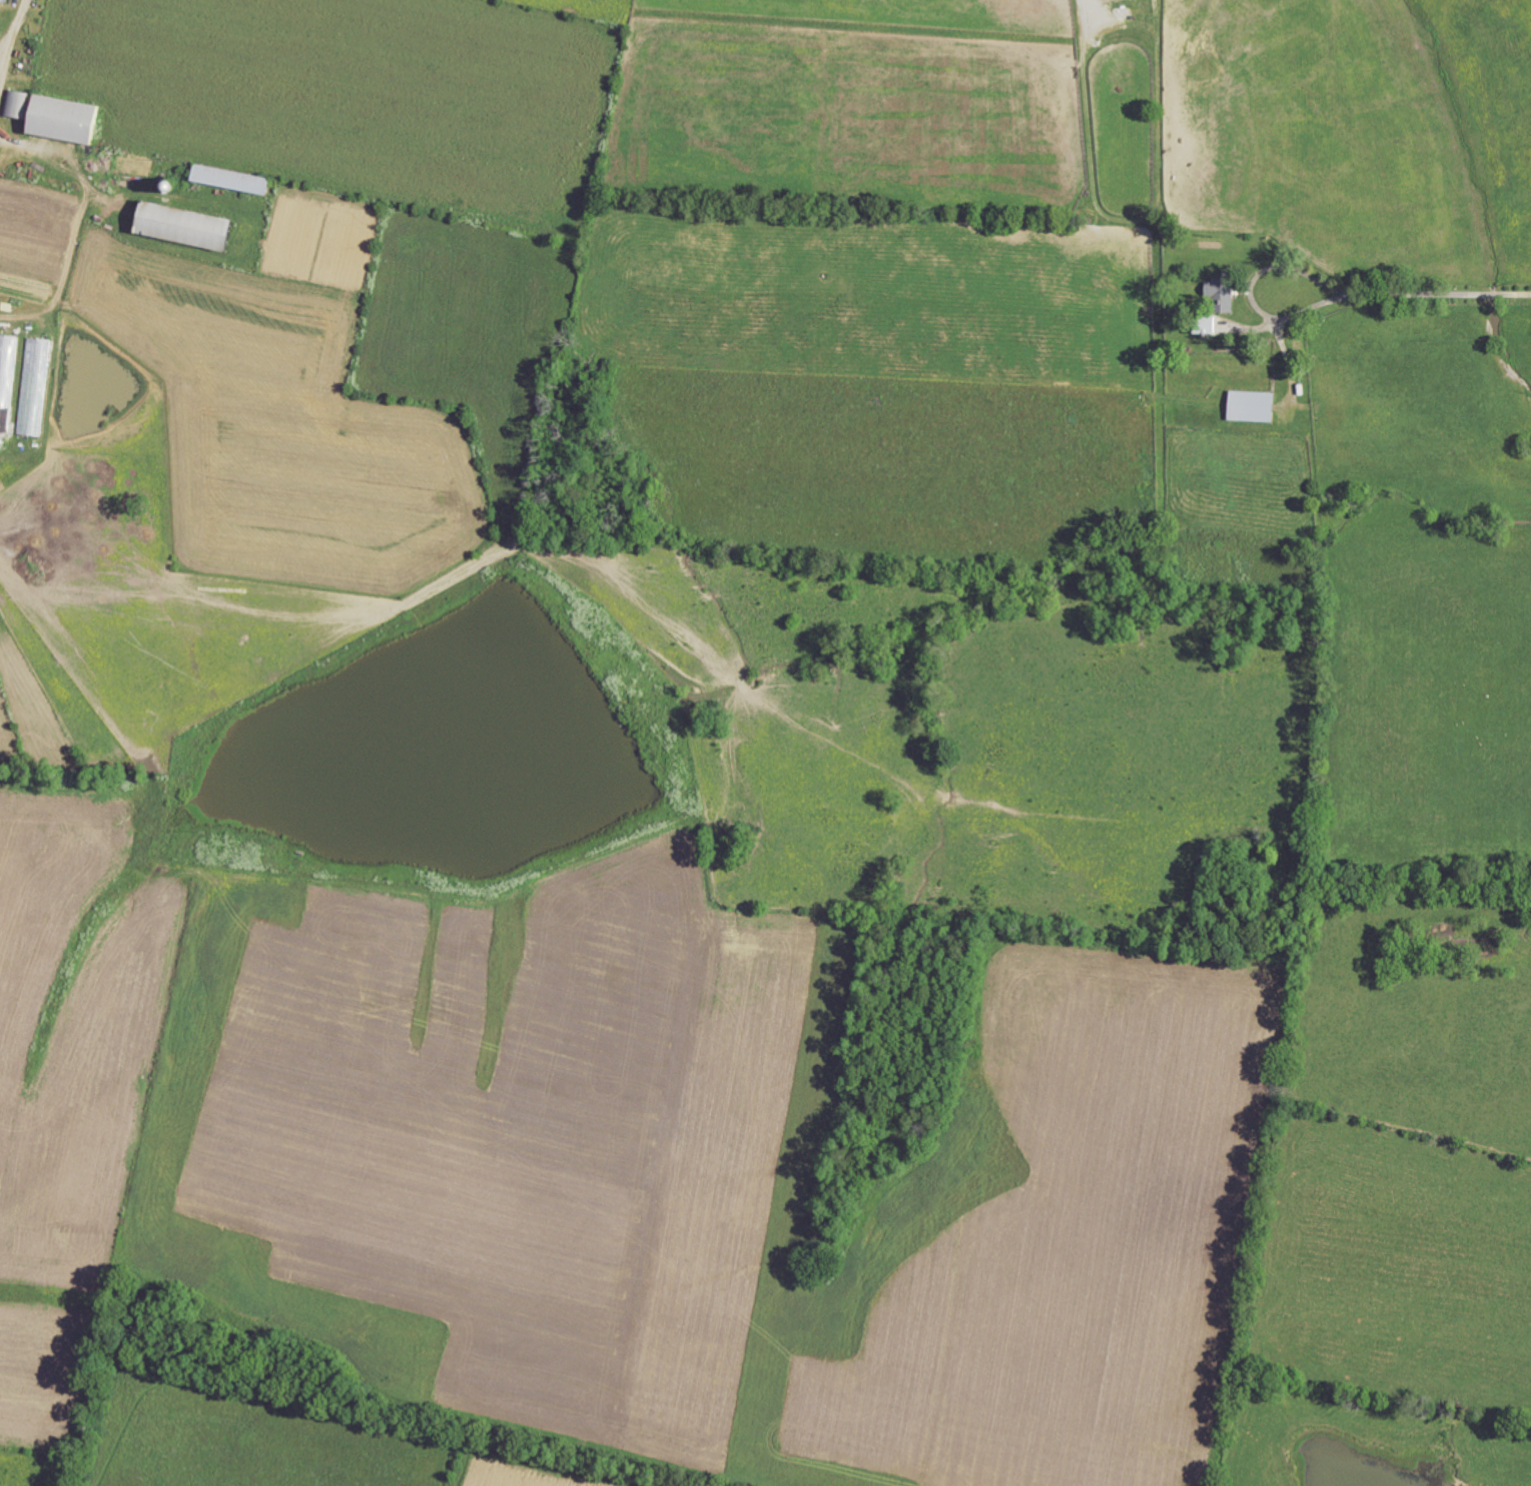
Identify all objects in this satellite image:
building: (5, 1)
road: (11, 40)
building: (65, 120)
building: (232, 178)
building: (186, 224)
building: (1222, 292)
road: (1251, 292)
road: (1437, 294)
building: (1253, 406)

